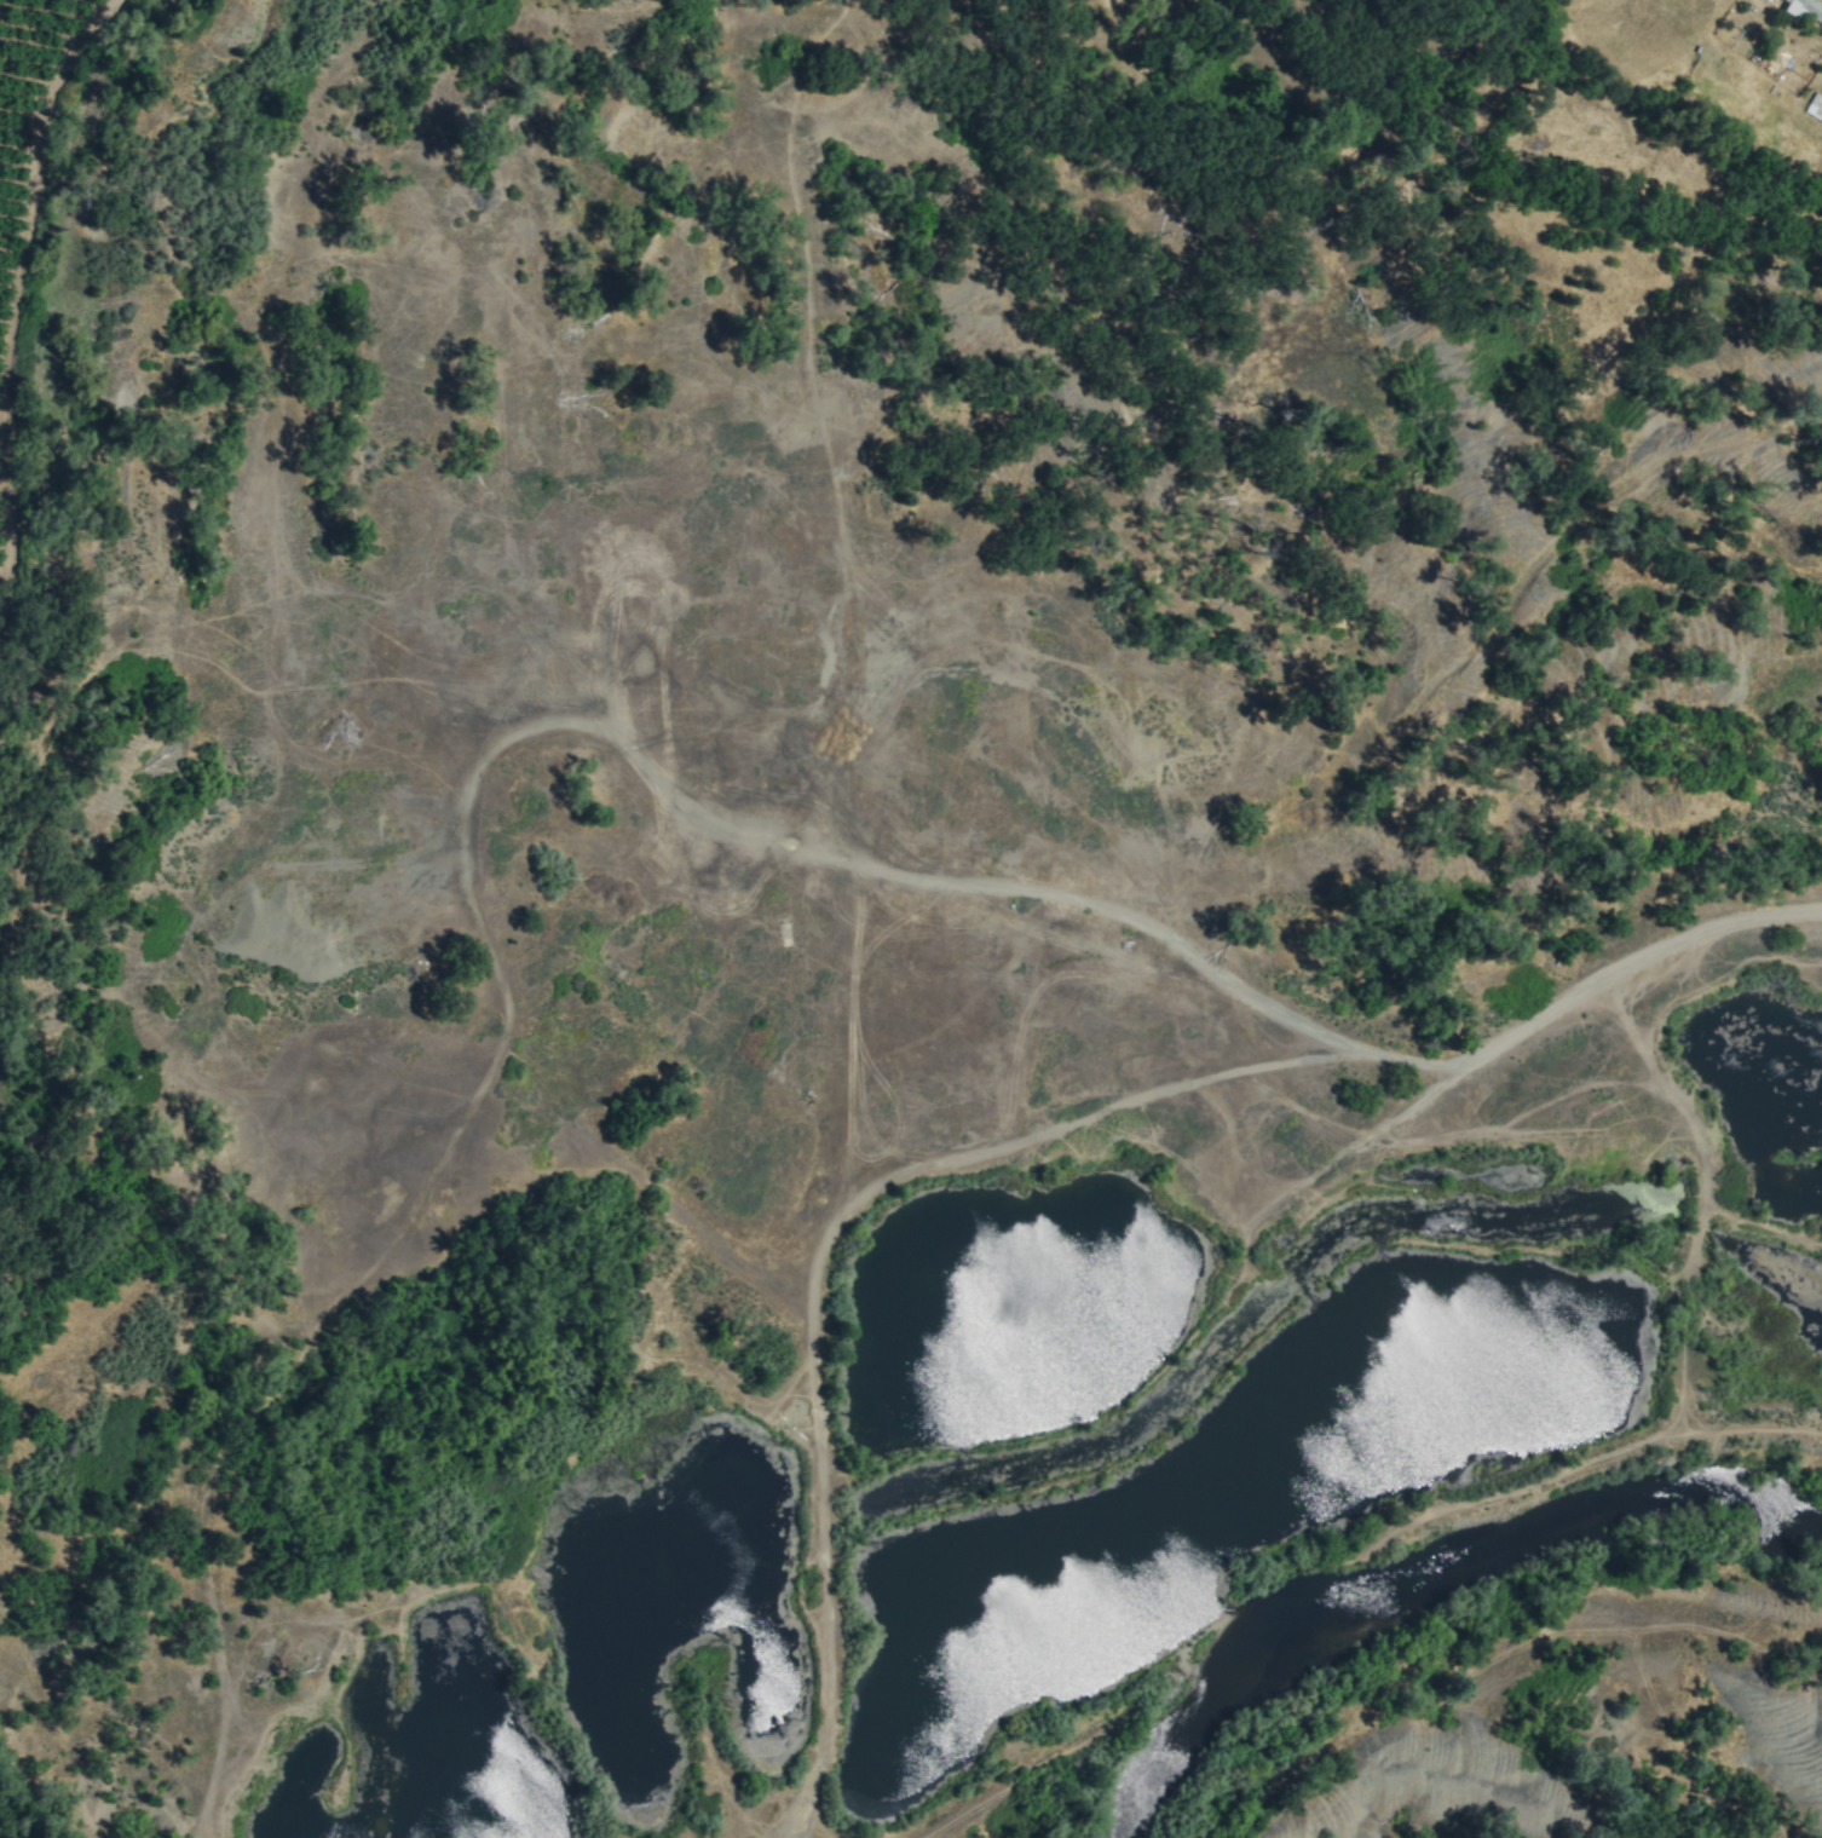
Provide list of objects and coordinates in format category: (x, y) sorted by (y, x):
building: (1805, 7)
building: (1815, 109)
river: (1459, 1586)

